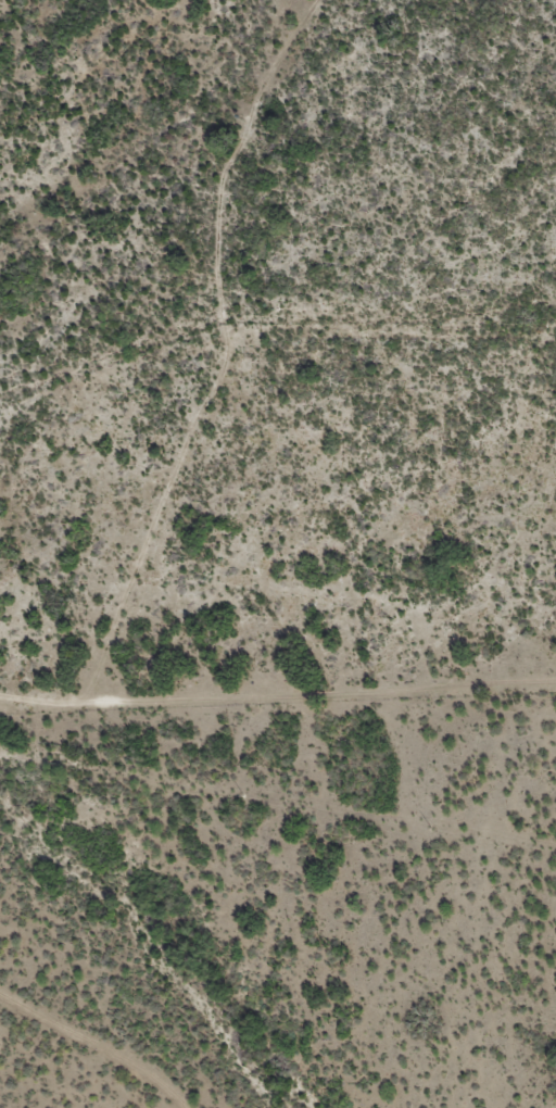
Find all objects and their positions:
road: (277, 691)

